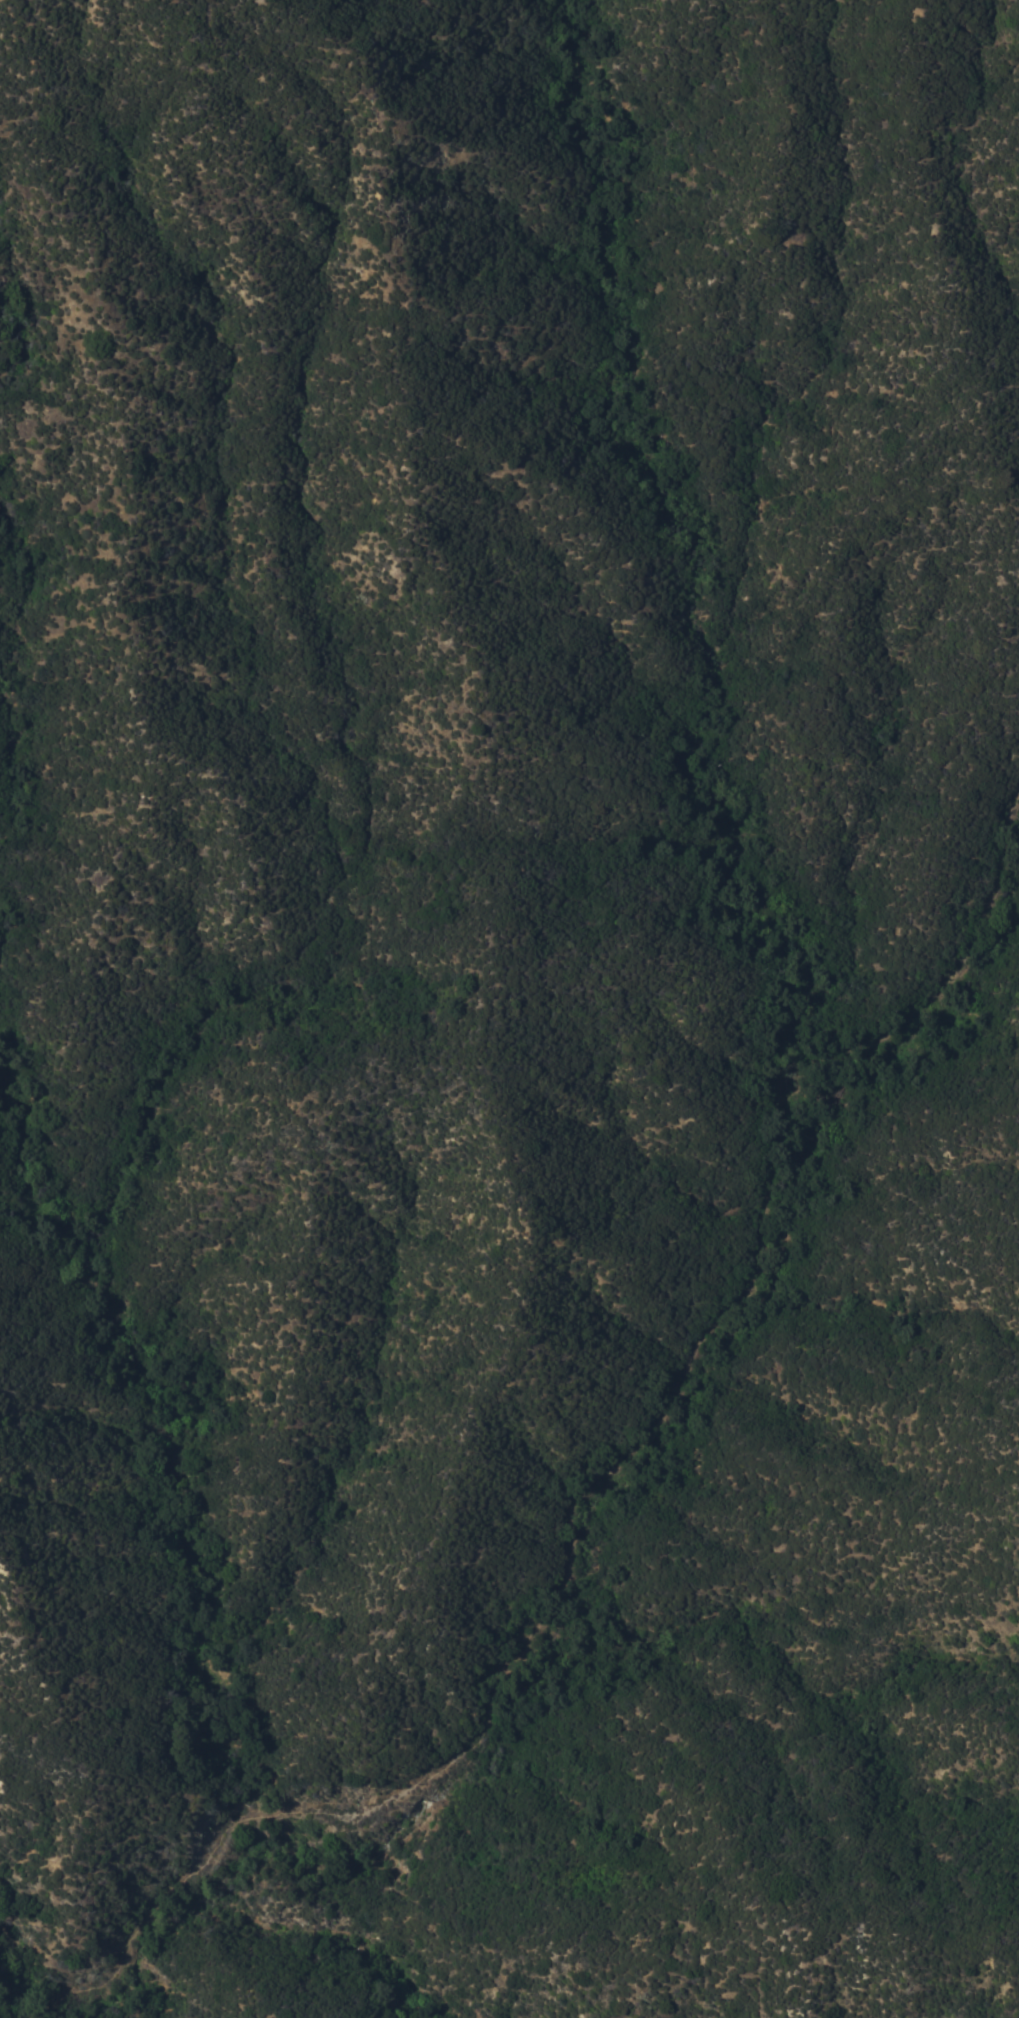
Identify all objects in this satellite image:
road: (600, 1513)

